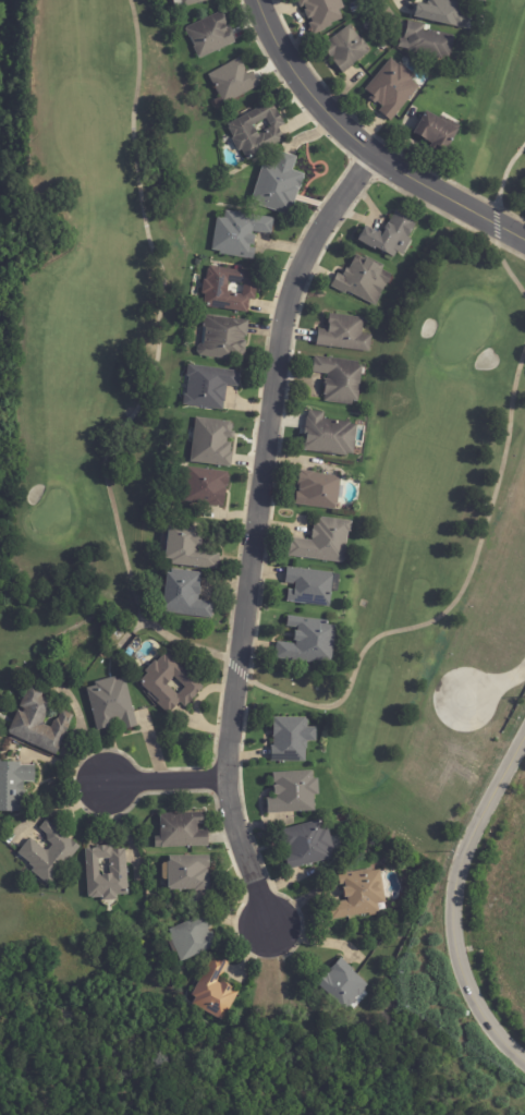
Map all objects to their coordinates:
building: (174, 0)
building: (476, 1)
building: (193, 2)
building: (323, 13)
building: (442, 13)
building: (211, 35)
building: (428, 41)
building: (346, 50)
park: (500, 70)
building: (234, 82)
building: (393, 89)
building: (437, 131)
building: (258, 132)
road: (366, 145)
building: (279, 185)
building: (240, 234)
building: (390, 235)
building: (364, 280)
building: (229, 291)
building: (345, 334)
building: (225, 339)
park: (84, 365)
building: (341, 379)
building: (210, 388)
building: (329, 435)
building: (210, 441)
building: (207, 486)
building: (318, 489)
road: (258, 533)
building: (323, 541)
building: (190, 547)
building: (309, 586)
building: (187, 594)
building: (309, 642)
building: (155, 683)
road: (491, 686)
building: (113, 704)
building: (39, 722)
building: (290, 739)
road: (168, 781)
building: (14, 785)
building: (295, 793)
building: (182, 831)
building: (308, 845)
building: (50, 853)
building: (119, 868)
building: (188, 874)
building: (361, 895)
road: (454, 906)
building: (356, 929)
building: (194, 938)
building: (343, 984)
building: (215, 991)

